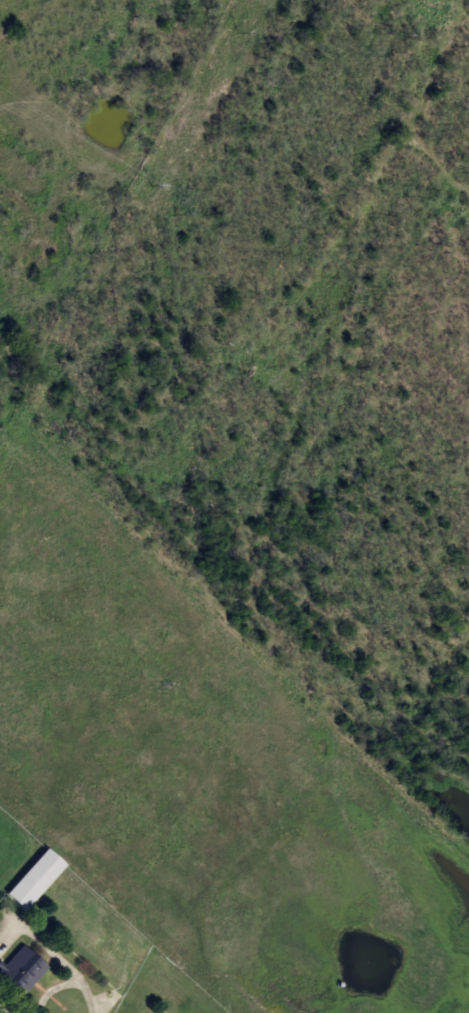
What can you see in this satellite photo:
building: (36, 880)
building: (22, 972)

